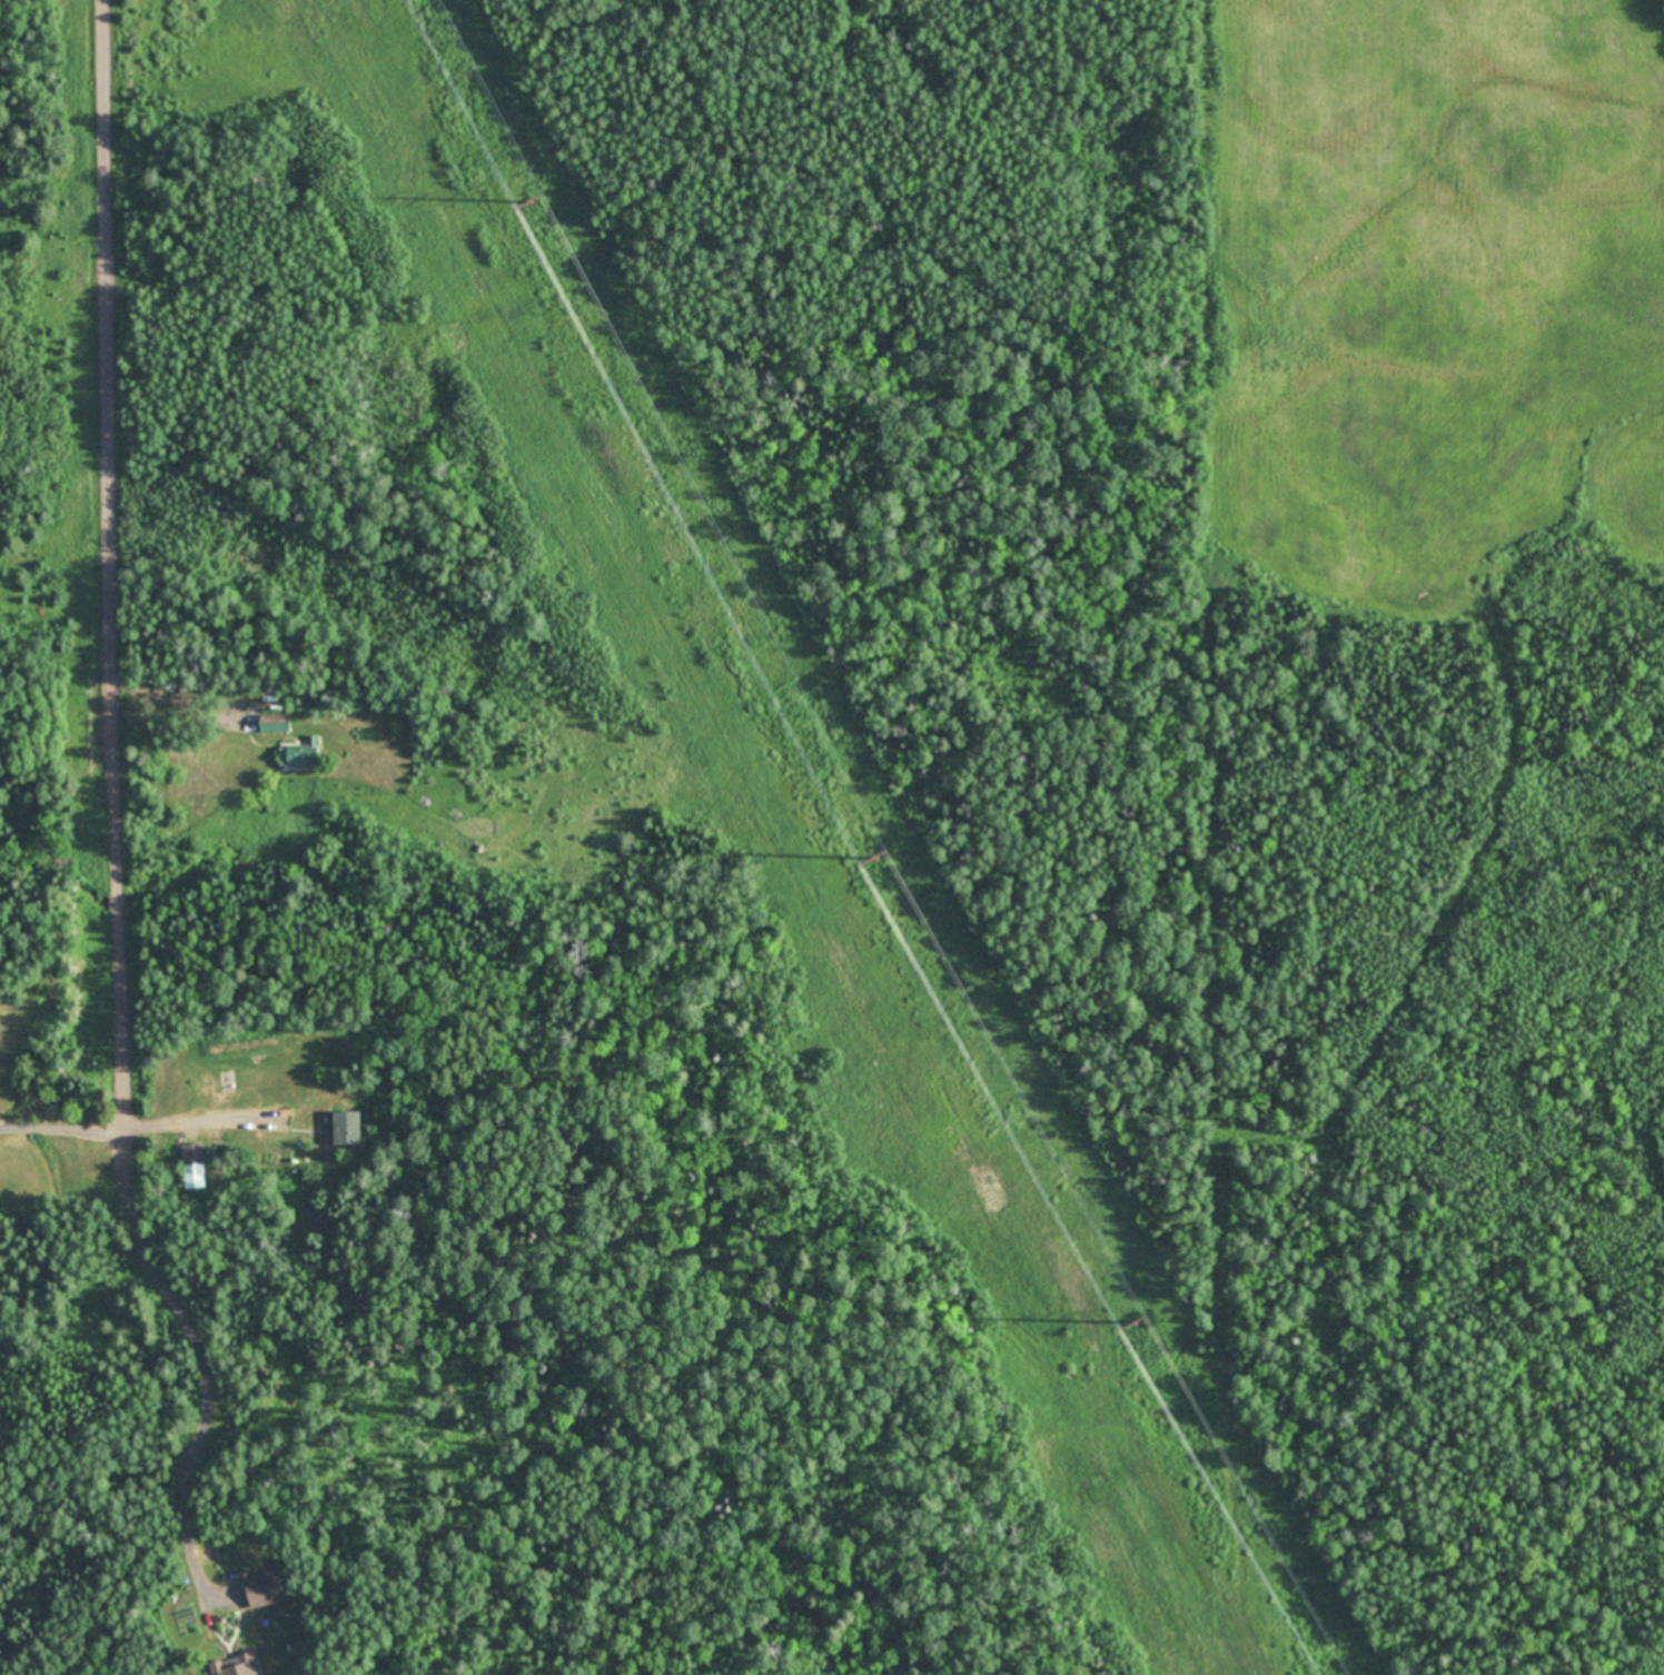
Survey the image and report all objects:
power tower: (533, 200)
crop: (1435, 290)
road: (121, 562)
building: (275, 725)
building: (299, 756)
power tower: (876, 856)
building: (227, 1081)
building: (343, 1129)
building: (192, 1167)
power tower: (1136, 1320)
building: (264, 1589)
building: (236, 1665)

